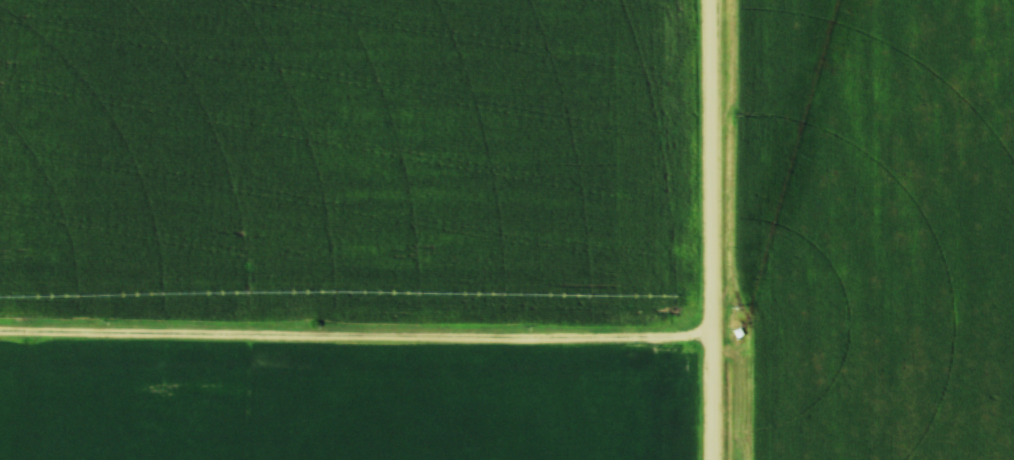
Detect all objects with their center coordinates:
road: (712, 229)
road: (356, 334)

